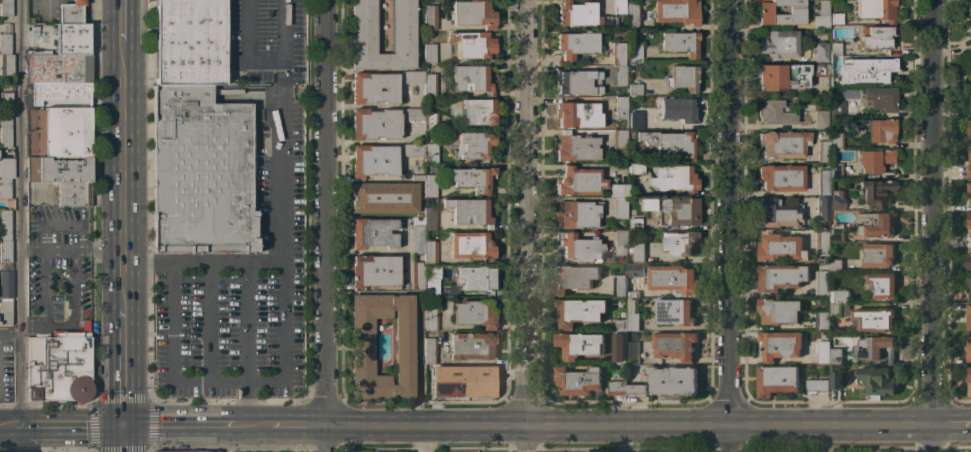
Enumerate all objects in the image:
building: (619, 7)
building: (6, 8)
building: (796, 10)
building: (877, 10)
building: (675, 11)
building: (71, 12)
building: (969, 12)
building: (472, 14)
building: (581, 15)
building: (822, 15)
building: (632, 16)
building: (430, 17)
building: (837, 18)
road: (124, 20)
building: (364, 26)
building: (969, 30)
building: (876, 37)
building: (79, 38)
building: (189, 42)
building: (679, 43)
building: (5, 44)
building: (575, 44)
building: (779, 44)
road: (249, 45)
building: (474, 45)
building: (834, 49)
building: (821, 52)
building: (428, 53)
building: (635, 53)
building: (618, 54)
building: (969, 63)
building: (6, 64)
building: (59, 68)
building: (868, 69)
building: (819, 70)
building: (619, 75)
building: (782, 76)
building: (412, 77)
building: (683, 77)
building: (471, 79)
building: (428, 81)
building: (577, 82)
building: (374, 88)
building: (635, 89)
building: (60, 93)
building: (970, 95)
building: (879, 100)
building: (6, 104)
building: (837, 108)
building: (620, 109)
building: (677, 110)
building: (479, 111)
building: (775, 113)
building: (412, 114)
building: (577, 115)
building: (430, 120)
building: (635, 120)
building: (821, 120)
building: (375, 124)
building: (969, 129)
building: (34, 130)
building: (262, 130)
building: (880, 130)
building: (5, 131)
building: (63, 132)
building: (619, 139)
building: (836, 140)
building: (670, 142)
building: (474, 144)
building: (783, 144)
building: (575, 148)
building: (412, 150)
building: (823, 150)
building: (430, 153)
building: (874, 160)
building: (373, 161)
building: (969, 167)
building: (7, 168)
building: (58, 169)
building: (836, 170)
road: (124, 172)
building: (200, 172)
building: (667, 177)
building: (781, 177)
building: (472, 178)
building: (585, 183)
building: (824, 183)
building: (427, 184)
building: (969, 187)
building: (5, 188)
building: (875, 192)
parking lot: (40, 193)
building: (73, 194)
building: (384, 197)
building: (837, 201)
building: (620, 208)
building: (823, 208)
building: (671, 211)
building: (471, 212)
building: (779, 213)
building: (577, 214)
building: (429, 219)
building: (969, 220)
building: (5, 223)
building: (876, 223)
building: (635, 224)
road: (24, 225)
road: (728, 225)
road: (936, 225)
road: (51, 226)
road: (329, 226)
road: (526, 226)
building: (372, 233)
building: (838, 233)
building: (417, 234)
building: (620, 242)
building: (679, 242)
building: (823, 242)
building: (472, 246)
building: (781, 247)
building: (580, 248)
building: (5, 251)
road: (73, 251)
building: (638, 251)
building: (429, 252)
building: (879, 254)
building: (969, 261)
parking lot: (58, 262)
road: (147, 263)
road: (227, 264)
building: (835, 265)
building: (634, 269)
building: (374, 271)
building: (417, 276)
building: (782, 276)
building: (574, 277)
building: (477, 278)
building: (673, 279)
building: (432, 281)
building: (823, 282)
building: (969, 282)
building: (620, 285)
building: (880, 285)
building: (6, 286)
road: (43, 287)
road: (76, 289)
building: (632, 294)
building: (839, 296)
road: (284, 303)
building: (835, 309)
building: (779, 310)
building: (579, 311)
building: (674, 311)
building: (85, 312)
building: (5, 313)
building: (474, 313)
building: (969, 316)
building: (430, 318)
building: (875, 318)
building: (822, 320)
building: (633, 321)
road: (209, 323)
road: (244, 323)
road: (33, 324)
road: (56, 324)
building: (621, 324)
road: (12, 336)
building: (580, 344)
building: (675, 344)
building: (780, 345)
building: (471, 346)
building: (620, 346)
building: (363, 347)
building: (874, 347)
building: (969, 349)
building: (429, 351)
building: (824, 351)
building: (632, 352)
building: (836, 355)
parking lot: (6, 365)
building: (59, 365)
road: (124, 365)
road: (417, 365)
building: (835, 377)
building: (673, 379)
building: (777, 379)
building: (578, 380)
building: (877, 381)
building: (461, 382)
building: (969, 382)
building: (817, 384)
building: (617, 387)
building: (636, 390)
road: (245, 404)
road: (952, 424)
road: (69, 426)
traffic signals: (124, 426)
road: (179, 426)
road: (240, 426)
road: (259, 426)
road: (300, 426)
road: (631, 426)
road: (7, 428)
road: (124, 439)
road: (221, 439)
building: (833, 450)
building: (196, 451)

